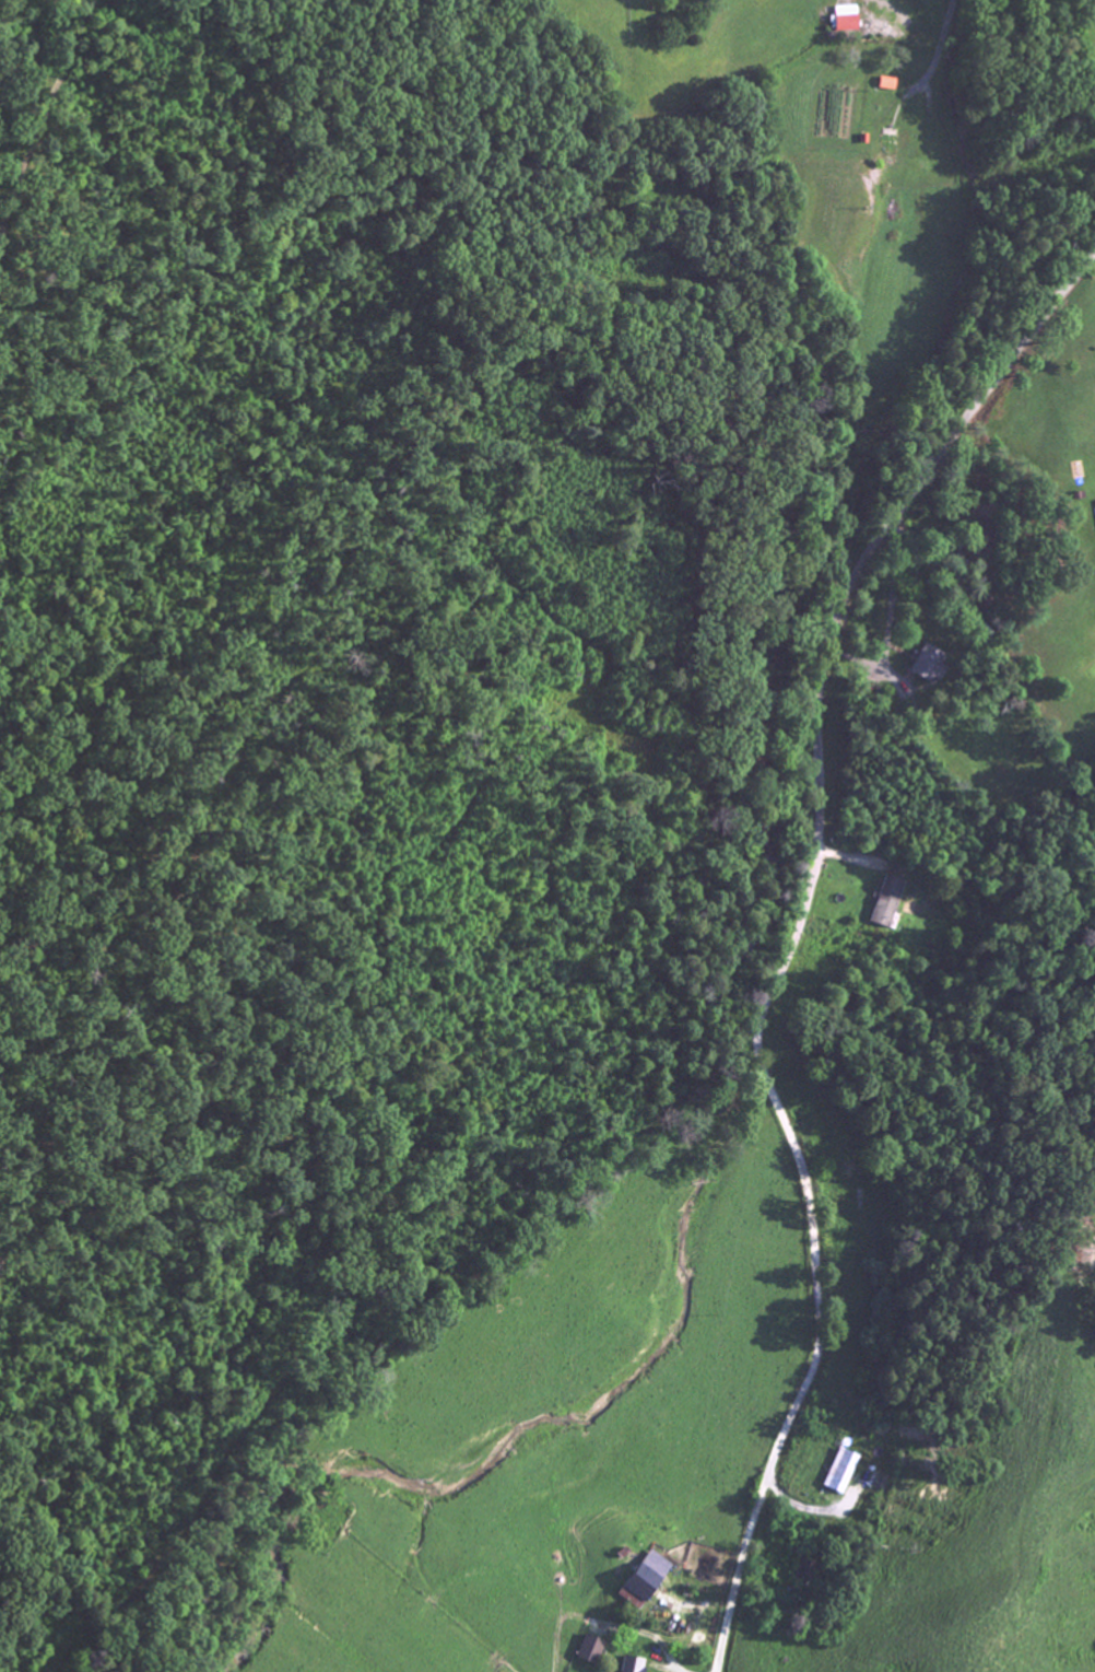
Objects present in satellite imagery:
road: (949, 8)
building: (849, 21)
road: (108, 160)
road: (862, 564)
building: (932, 665)
building: (890, 903)
road: (817, 1307)
building: (845, 1473)
building: (644, 1589)
building: (593, 1651)
building: (635, 1665)

